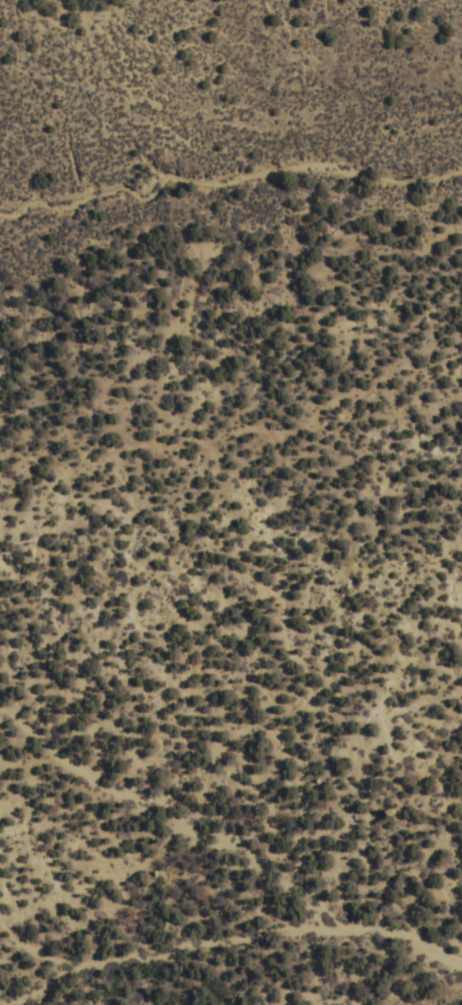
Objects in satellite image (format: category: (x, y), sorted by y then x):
road: (246, 571)
road: (249, 840)

